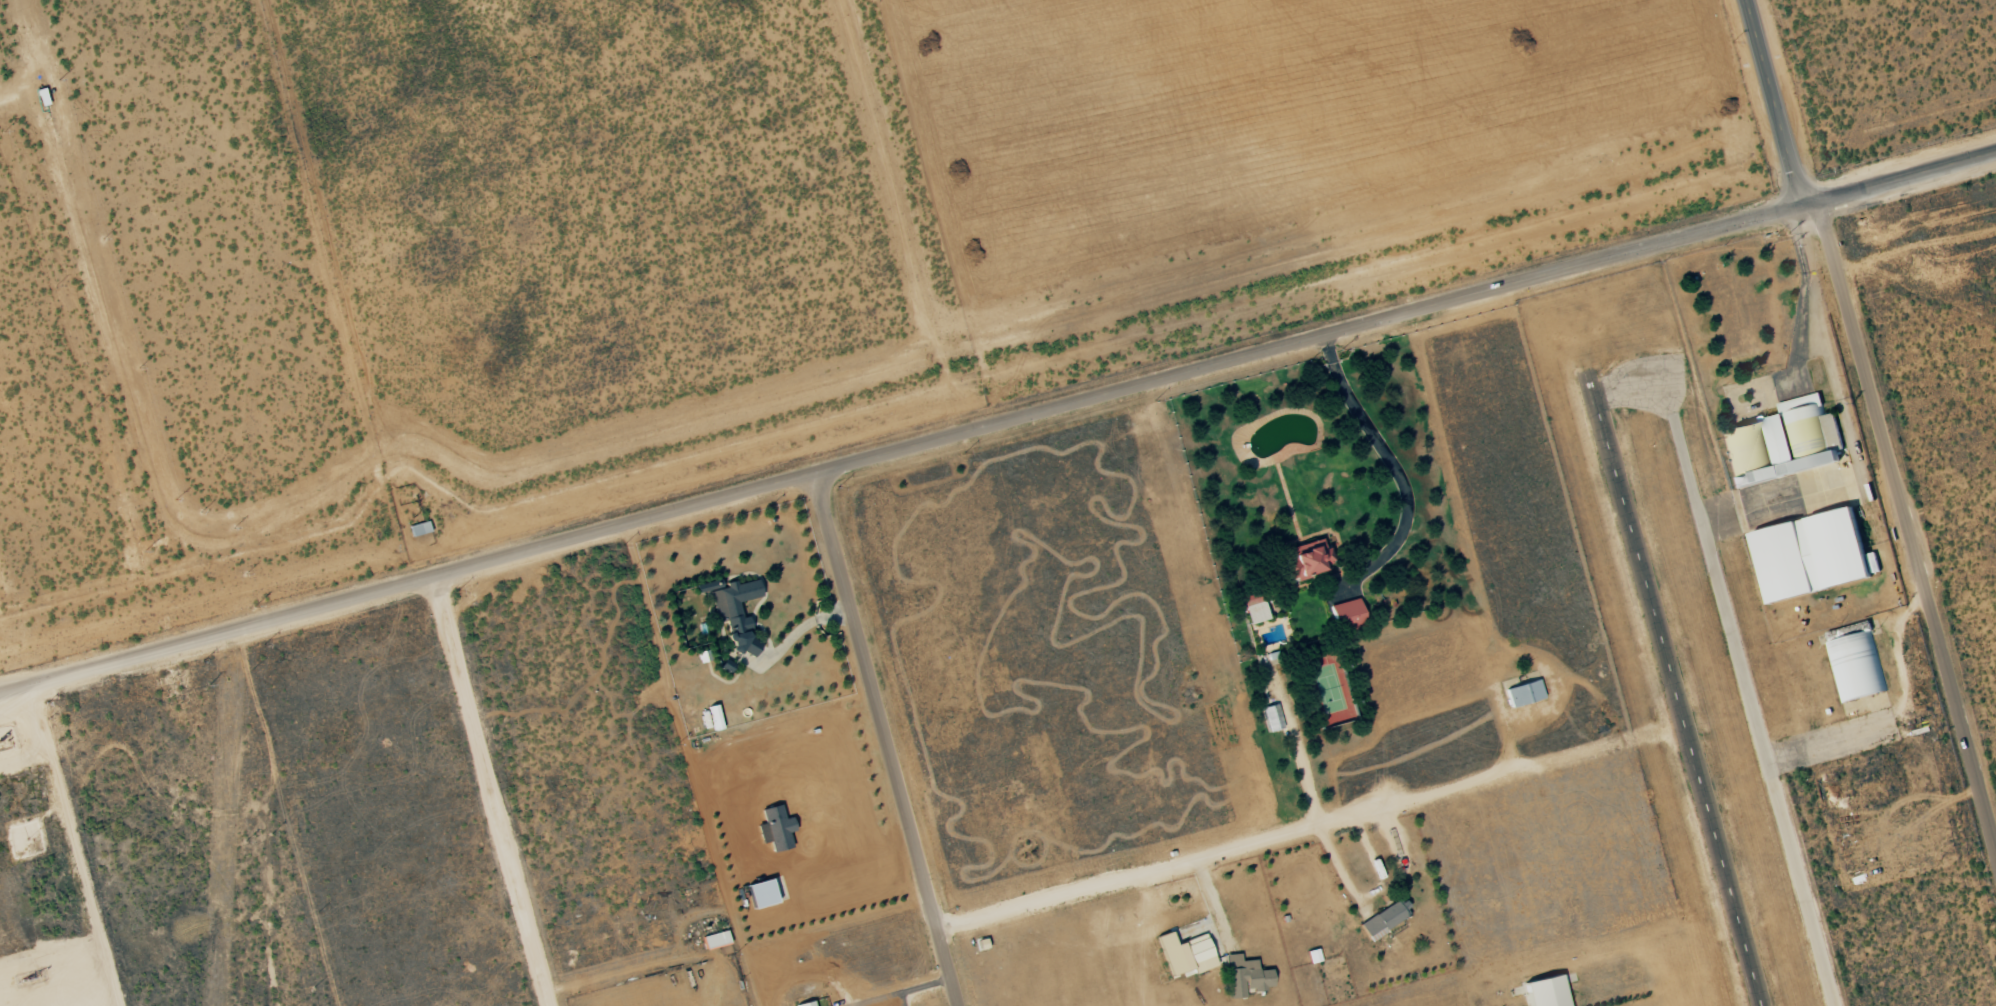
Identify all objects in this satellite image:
road: (1877, 419)
road: (998, 426)
building: (1802, 431)
building: (1745, 447)
road: (1396, 472)
building: (1745, 480)
building: (419, 529)
building: (1813, 555)
building: (1307, 560)
building: (734, 603)
building: (1255, 612)
building: (1348, 615)
airport: (1782, 641)
building: (1853, 667)
building: (1524, 694)
airport runway: (1672, 698)
building: (715, 717)
building: (1272, 718)
road: (884, 739)
road: (491, 793)
building: (776, 829)
road: (1300, 830)
building: (1386, 918)
building: (716, 940)
building: (981, 945)
building: (1186, 954)
building: (1246, 977)
building: (1546, 992)
building: (806, 1004)

